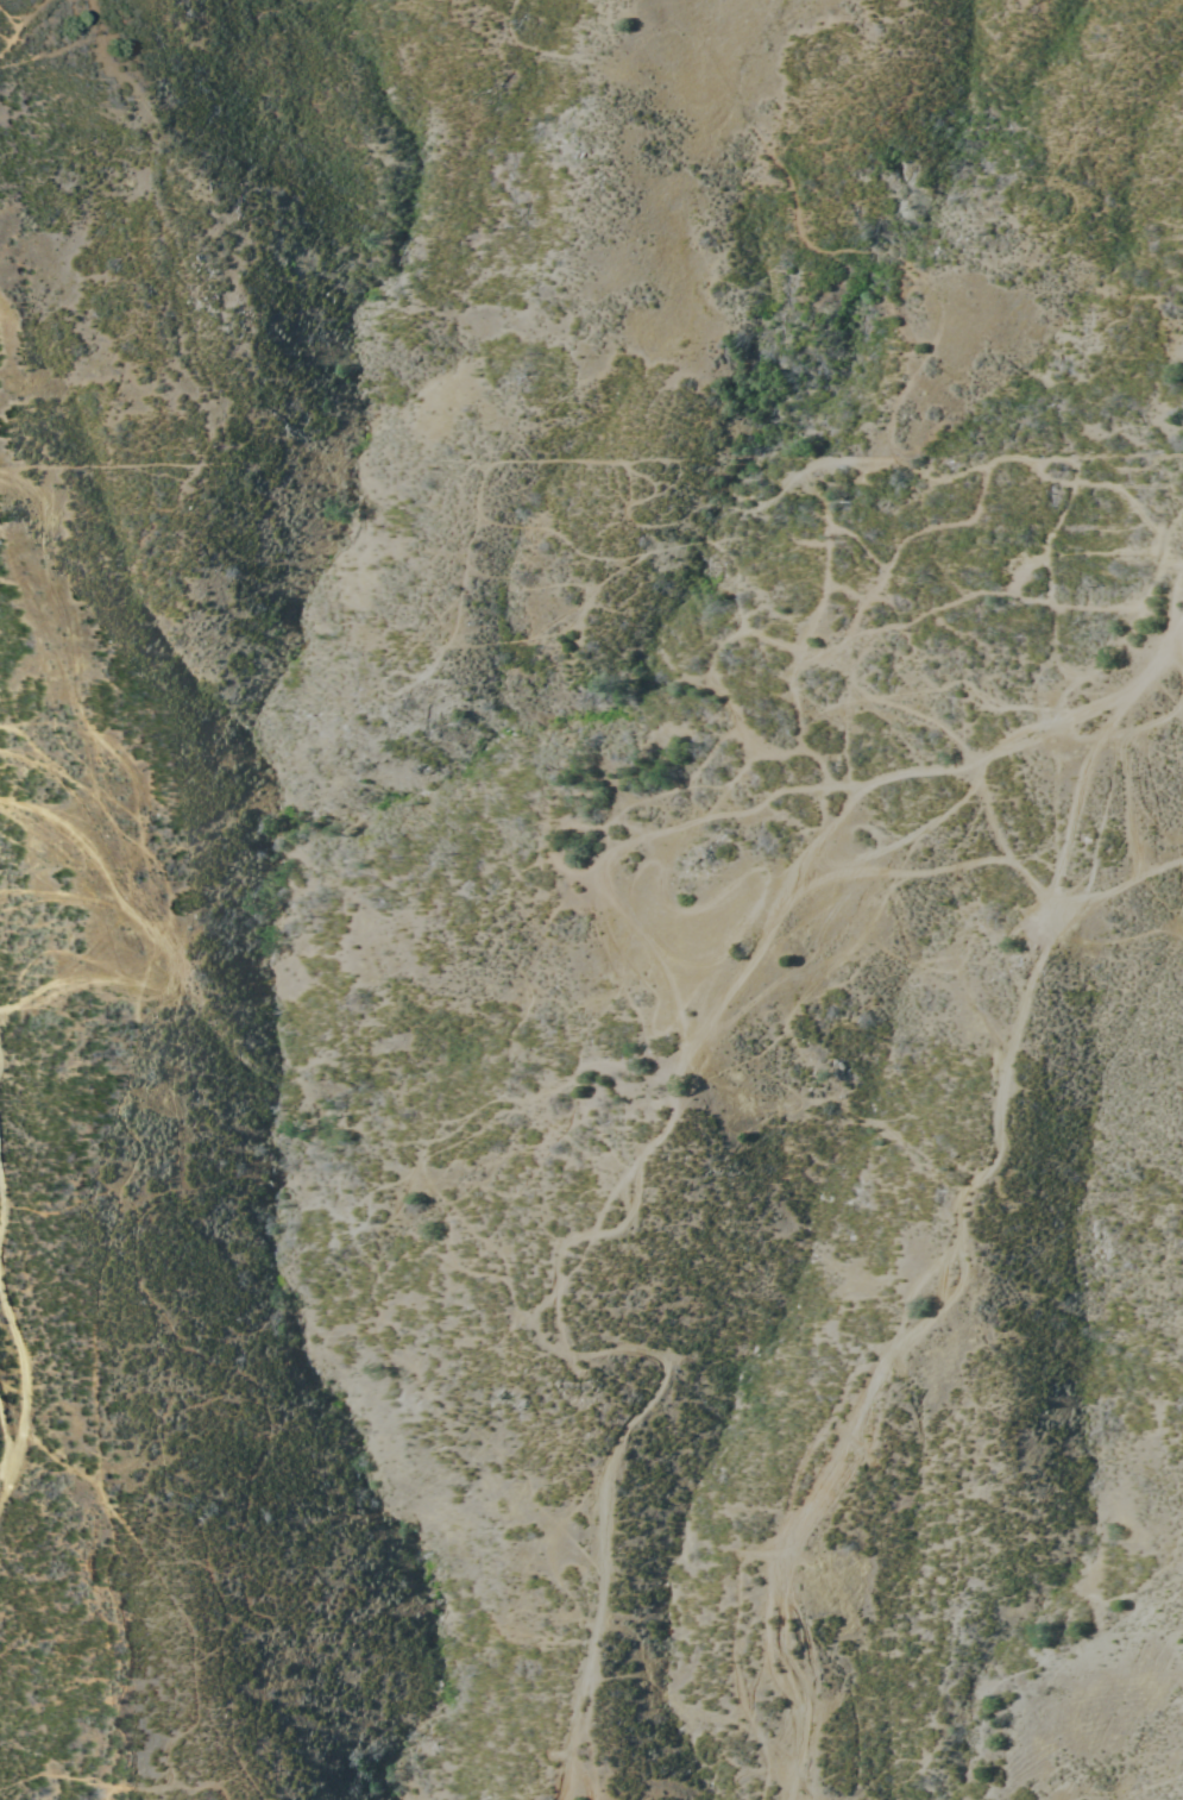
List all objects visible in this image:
road: (1160, 673)
road: (1020, 705)
road: (959, 1242)
road: (534, 1286)
road: (21, 1397)

